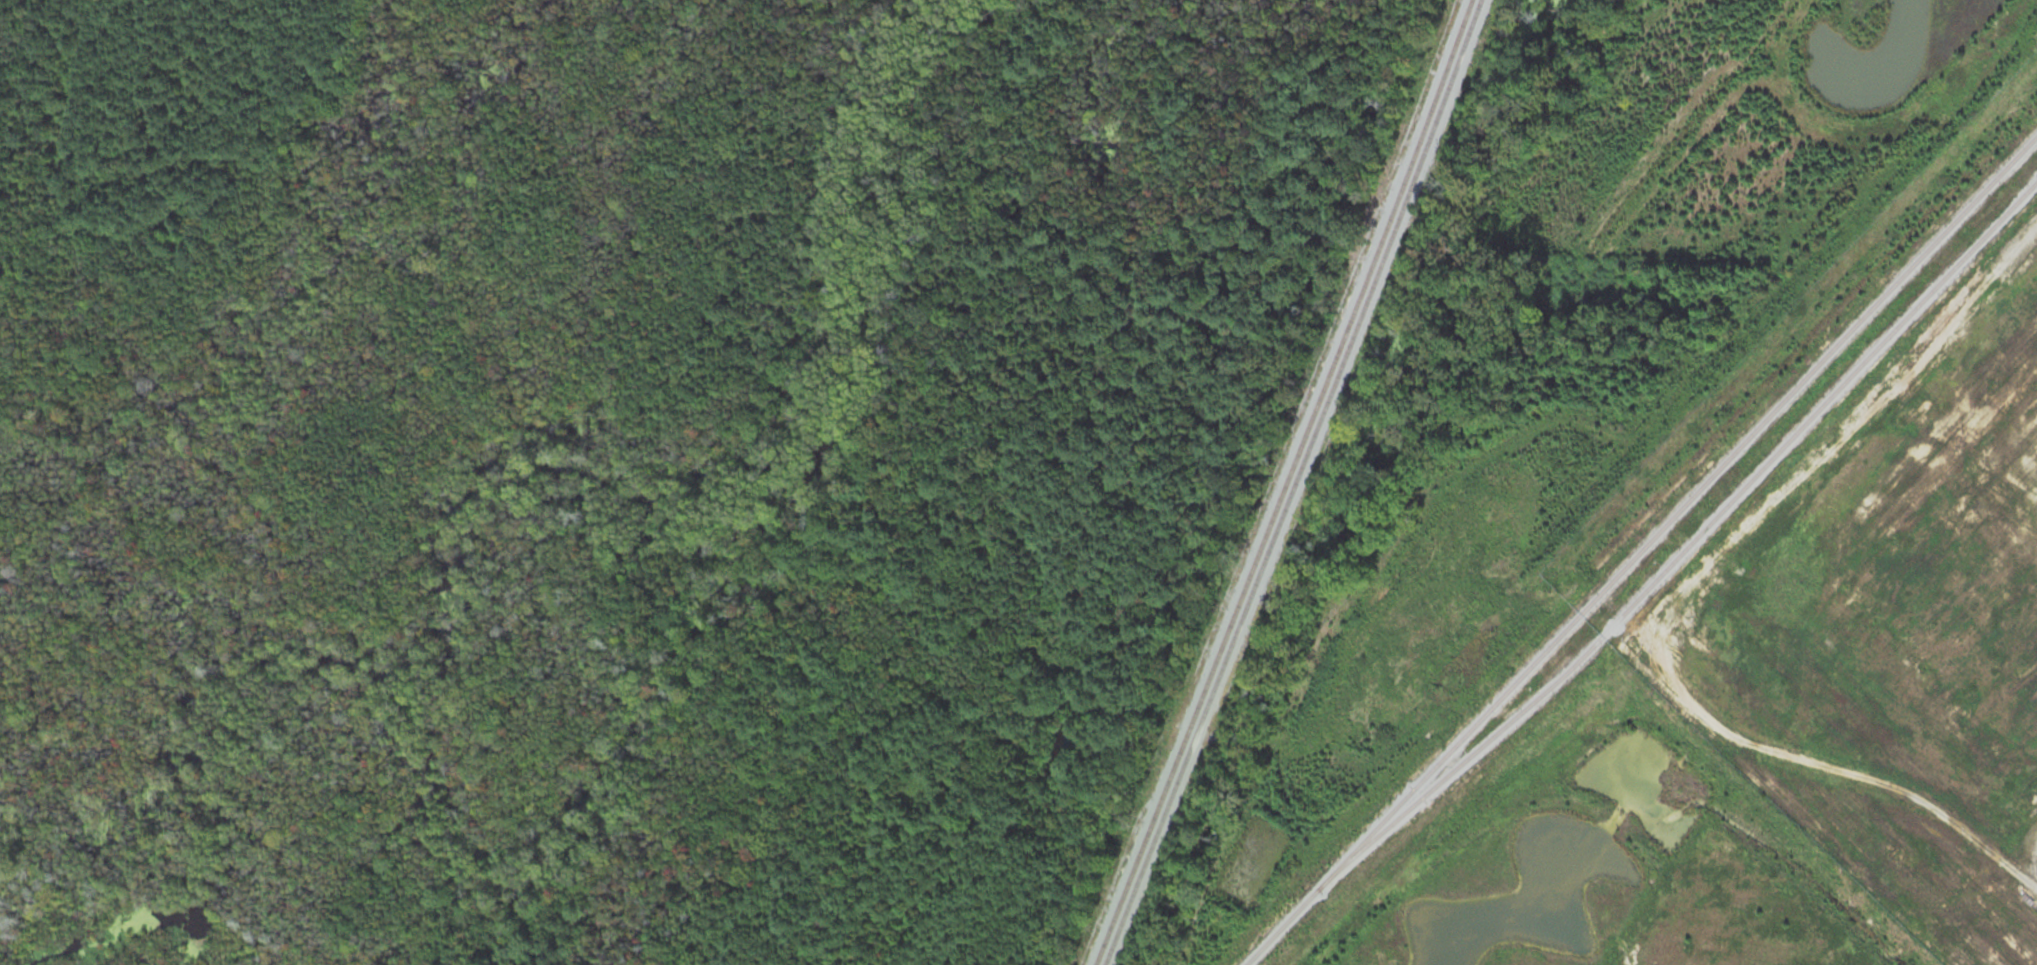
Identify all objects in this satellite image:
railway: (1285, 483)
railway: (1295, 483)
railway: (1642, 550)

